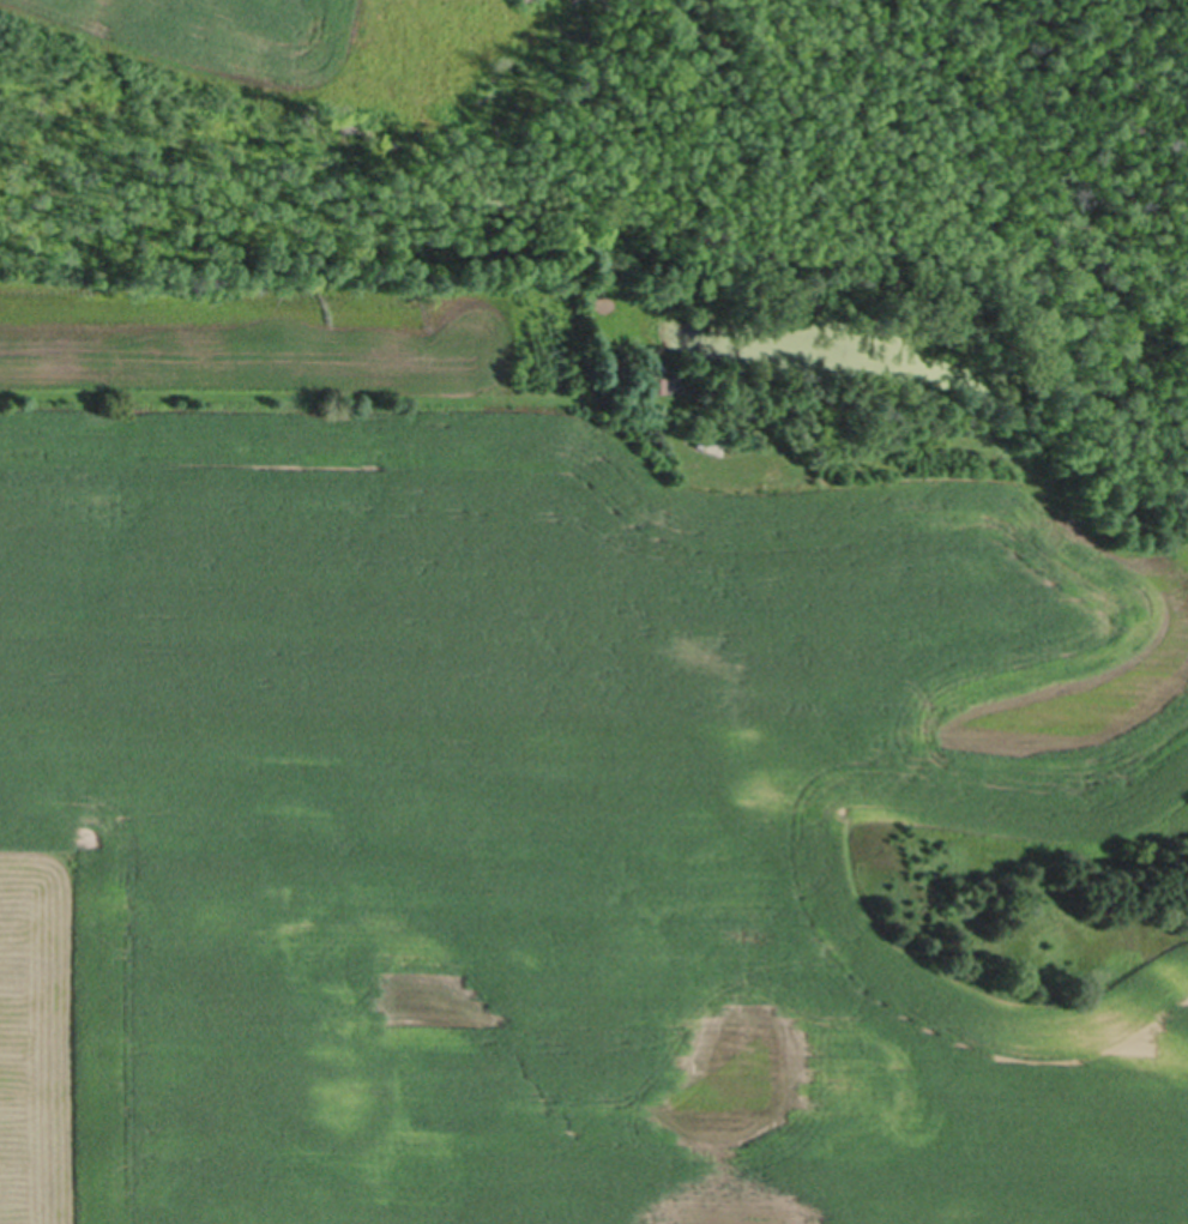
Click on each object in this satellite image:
building: (656, 384)
building: (700, 439)

